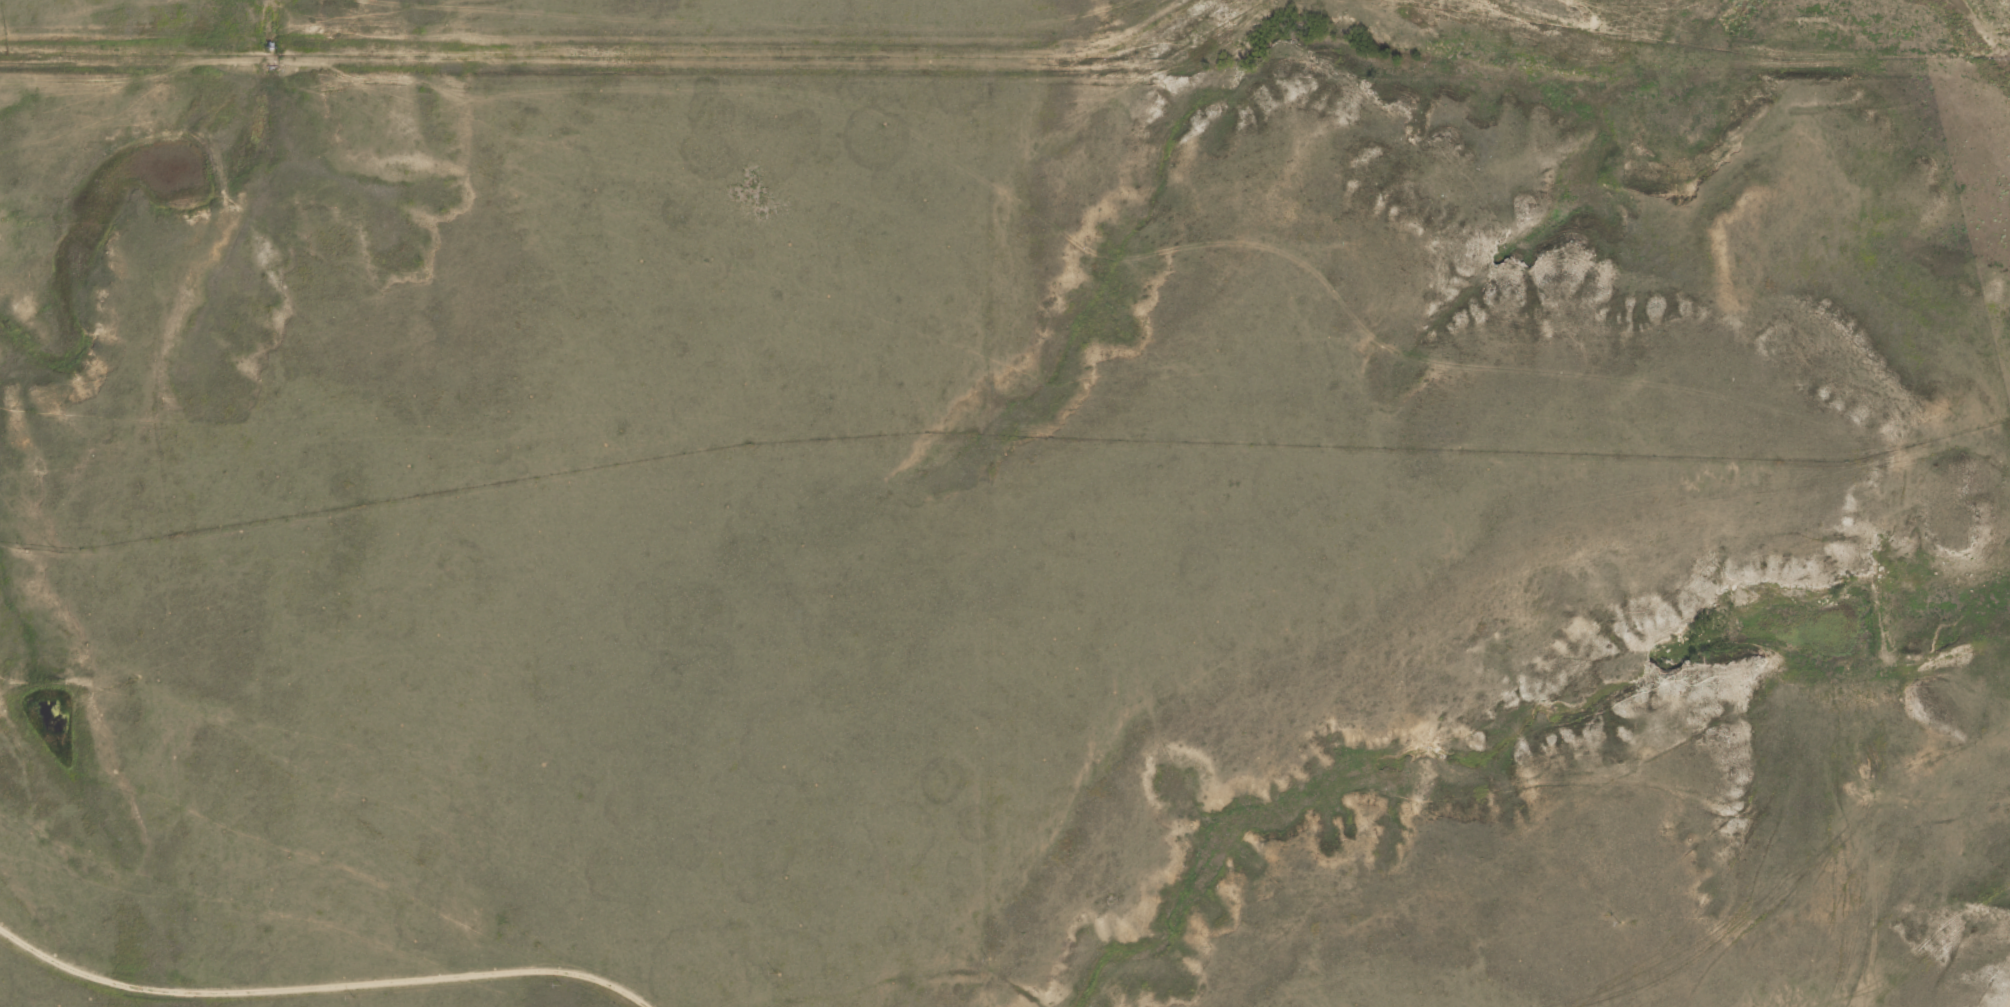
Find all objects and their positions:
road: (1993, 39)

